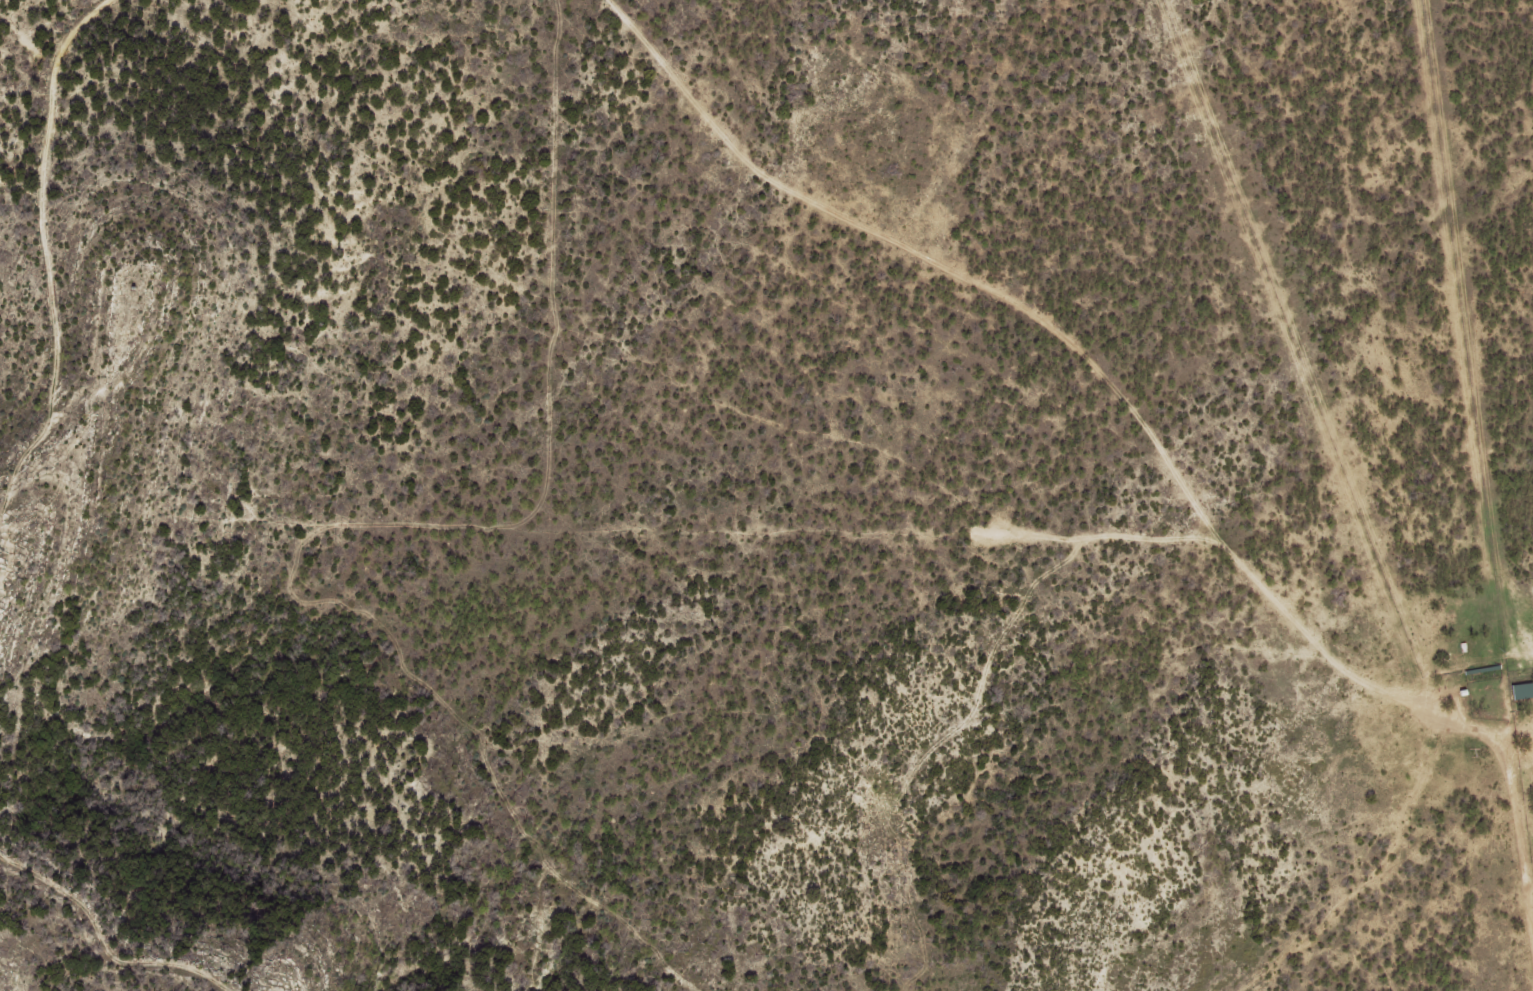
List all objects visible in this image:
road: (1093, 349)
building: (1523, 691)

